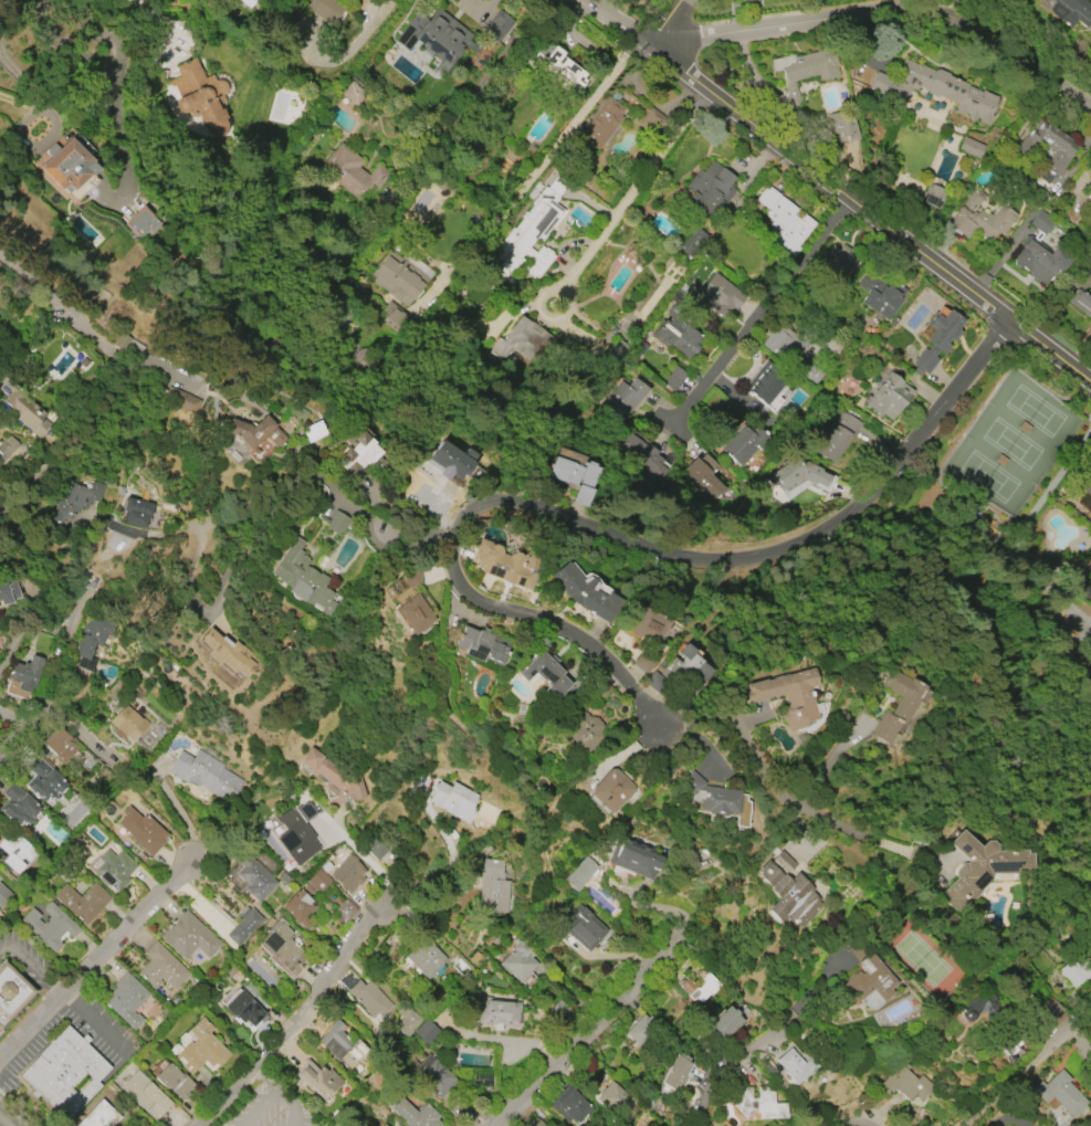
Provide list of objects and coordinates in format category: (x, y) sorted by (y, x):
building: (380, 0)
building: (736, 0)
building: (747, 0)
building: (245, 2)
building: (322, 8)
building: (1071, 11)
road: (884, 19)
road: (159, 22)
road: (665, 24)
building: (495, 25)
building: (433, 35)
building: (562, 69)
building: (802, 72)
road: (508, 75)
building: (158, 80)
building: (933, 88)
building: (349, 91)
building: (200, 96)
road: (1090, 107)
building: (601, 124)
building: (842, 127)
road: (562, 133)
building: (971, 148)
building: (1045, 150)
building: (63, 166)
building: (353, 173)
building: (1089, 186)
building: (84, 187)
road: (837, 188)
building: (709, 189)
building: (932, 196)
building: (1089, 196)
road: (629, 198)
building: (976, 218)
building: (783, 220)
building: (1040, 222)
building: (141, 223)
building: (528, 235)
building: (1040, 259)
building: (838, 261)
building: (1088, 269)
building: (399, 280)
building: (880, 294)
building: (715, 296)
building: (1081, 302)
road: (768, 305)
building: (676, 336)
building: (781, 340)
building: (936, 341)
building: (523, 343)
building: (808, 371)
building: (672, 377)
road: (119, 381)
building: (766, 382)
building: (888, 397)
building: (625, 398)
building: (181, 400)
building: (23, 411)
building: (253, 432)
building: (835, 435)
building: (744, 443)
building: (8, 446)
building: (359, 451)
building: (644, 455)
building: (453, 461)
building: (415, 472)
building: (573, 472)
building: (702, 476)
building: (799, 478)
building: (1088, 488)
building: (584, 495)
building: (77, 499)
building: (136, 512)
road: (399, 522)
building: (334, 523)
road: (619, 536)
road: (391, 537)
building: (506, 565)
building: (1076, 569)
building: (298, 579)
building: (10, 590)
building: (586, 593)
building: (410, 600)
building: (649, 627)
building: (93, 641)
building: (481, 645)
building: (223, 655)
building: (641, 663)
building: (28, 672)
building: (545, 674)
building: (680, 678)
road: (44, 688)
building: (789, 697)
building: (896, 706)
road: (15, 720)
building: (127, 723)
road: (75, 730)
building: (588, 730)
building: (61, 745)
road: (765, 766)
road: (833, 766)
building: (206, 775)
building: (334, 779)
building: (44, 781)
building: (610, 790)
building: (711, 797)
building: (452, 800)
building: (18, 806)
road: (176, 810)
building: (141, 831)
building: (297, 833)
building: (15, 853)
building: (633, 859)
road: (370, 863)
building: (980, 869)
building: (114, 870)
building: (347, 873)
building: (578, 873)
building: (254, 880)
building: (318, 881)
road: (417, 883)
building: (493, 886)
building: (787, 892)
building: (3, 894)
building: (82, 902)
building: (298, 908)
building: (346, 909)
road: (377, 918)
building: (243, 925)
building: (574, 926)
building: (49, 927)
building: (189, 937)
building: (281, 944)
road: (93, 958)
building: (424, 958)
building: (513, 964)
road: (29, 965)
building: (160, 968)
building: (1074, 971)
building: (872, 981)
building: (700, 988)
building: (11, 992)
building: (369, 998)
building: (127, 1000)
building: (244, 1009)
building: (977, 1010)
building: (1050, 1010)
building: (493, 1013)
road: (88, 1019)
building: (406, 1020)
building: (725, 1022)
building: (0, 1029)
road: (596, 1029)
road: (291, 1031)
building: (426, 1031)
building: (640, 1031)
road: (508, 1041)
building: (342, 1044)
building: (1010, 1050)
building: (202, 1051)
building: (796, 1065)
road: (1028, 1067)
building: (65, 1074)
building: (675, 1074)
road: (738, 1074)
road: (265, 1076)
building: (432, 1076)
building: (316, 1078)
building: (908, 1082)
building: (174, 1086)
building: (145, 1095)
building: (1062, 1095)
building: (613, 1098)
building: (756, 1103)
road: (293, 1104)
road: (255, 1106)
building: (563, 1107)
parking lot: (267, 1108)
building: (98, 1116)
building: (413, 1116)
road: (4, 1122)
building: (134, 1125)
building: (384, 1125)
building: (396, 1125)
building: (536, 1125)
road: (868, 1125)

